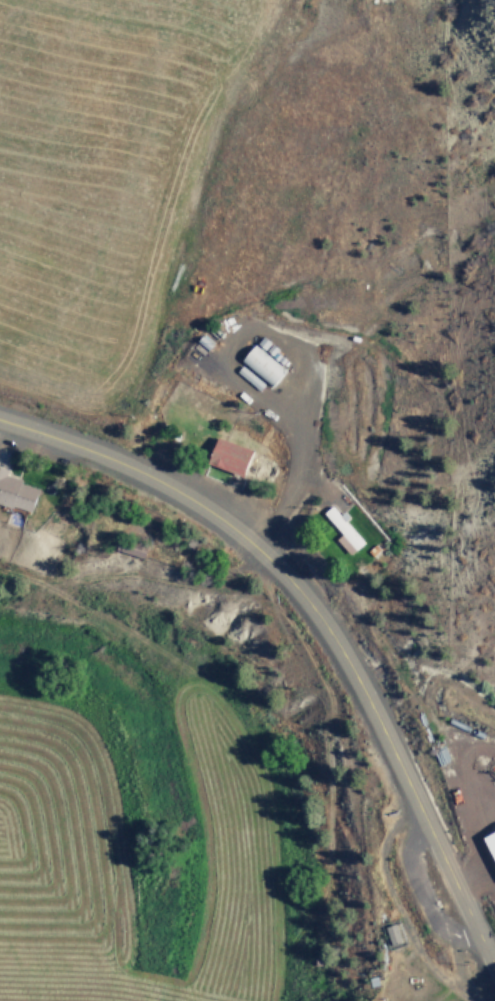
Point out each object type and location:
building: (265, 363)
building: (232, 455)
building: (17, 491)
building: (345, 528)
road: (321, 626)
building: (396, 933)

